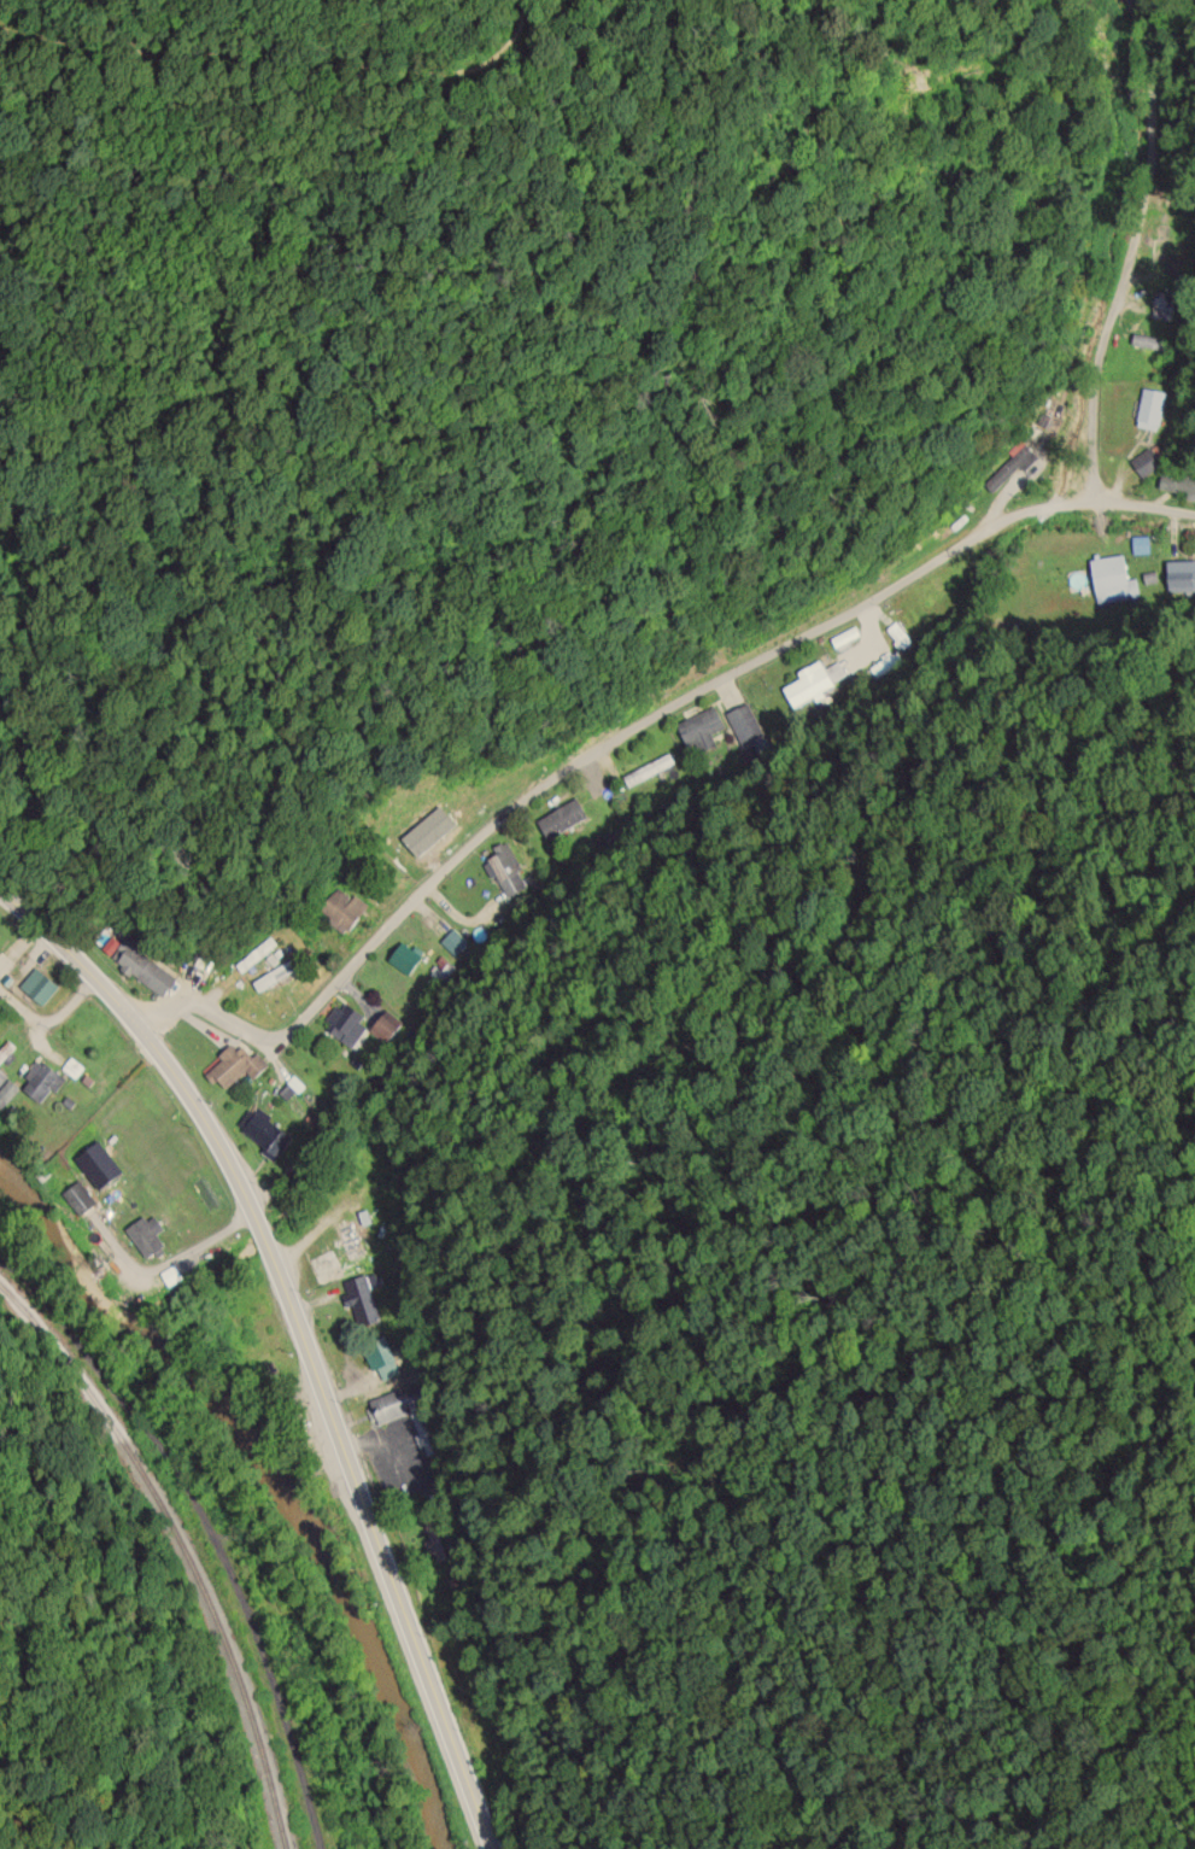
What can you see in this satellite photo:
road: (1153, 98)
building: (1164, 305)
road: (1099, 349)
building: (1150, 406)
building: (1189, 487)
building: (1140, 544)
building: (1181, 577)
building: (1112, 579)
building: (808, 685)
building: (745, 724)
road: (629, 729)
building: (702, 729)
building: (562, 819)
building: (506, 870)
building: (341, 908)
building: (453, 942)
building: (406, 958)
building: (139, 964)
building: (39, 985)
road: (47, 1020)
building: (346, 1023)
building: (385, 1029)
building: (6, 1052)
building: (233, 1066)
building: (2, 1077)
building: (42, 1081)
building: (7, 1093)
building: (265, 1133)
building: (98, 1165)
building: (147, 1235)
building: (350, 1239)
building: (362, 1299)
road: (298, 1335)
building: (381, 1358)
building: (405, 1412)
river: (276, 1471)
railway: (178, 1537)
building: (433, 1537)
quarry: (232, 1572)
road: (46, 1732)
road: (115, 1736)

